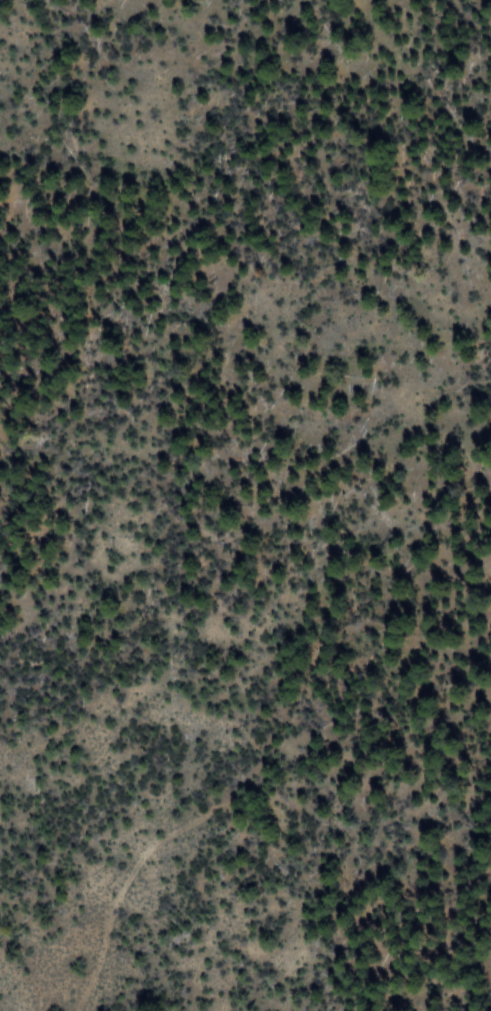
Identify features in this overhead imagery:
road: (158, 839)

